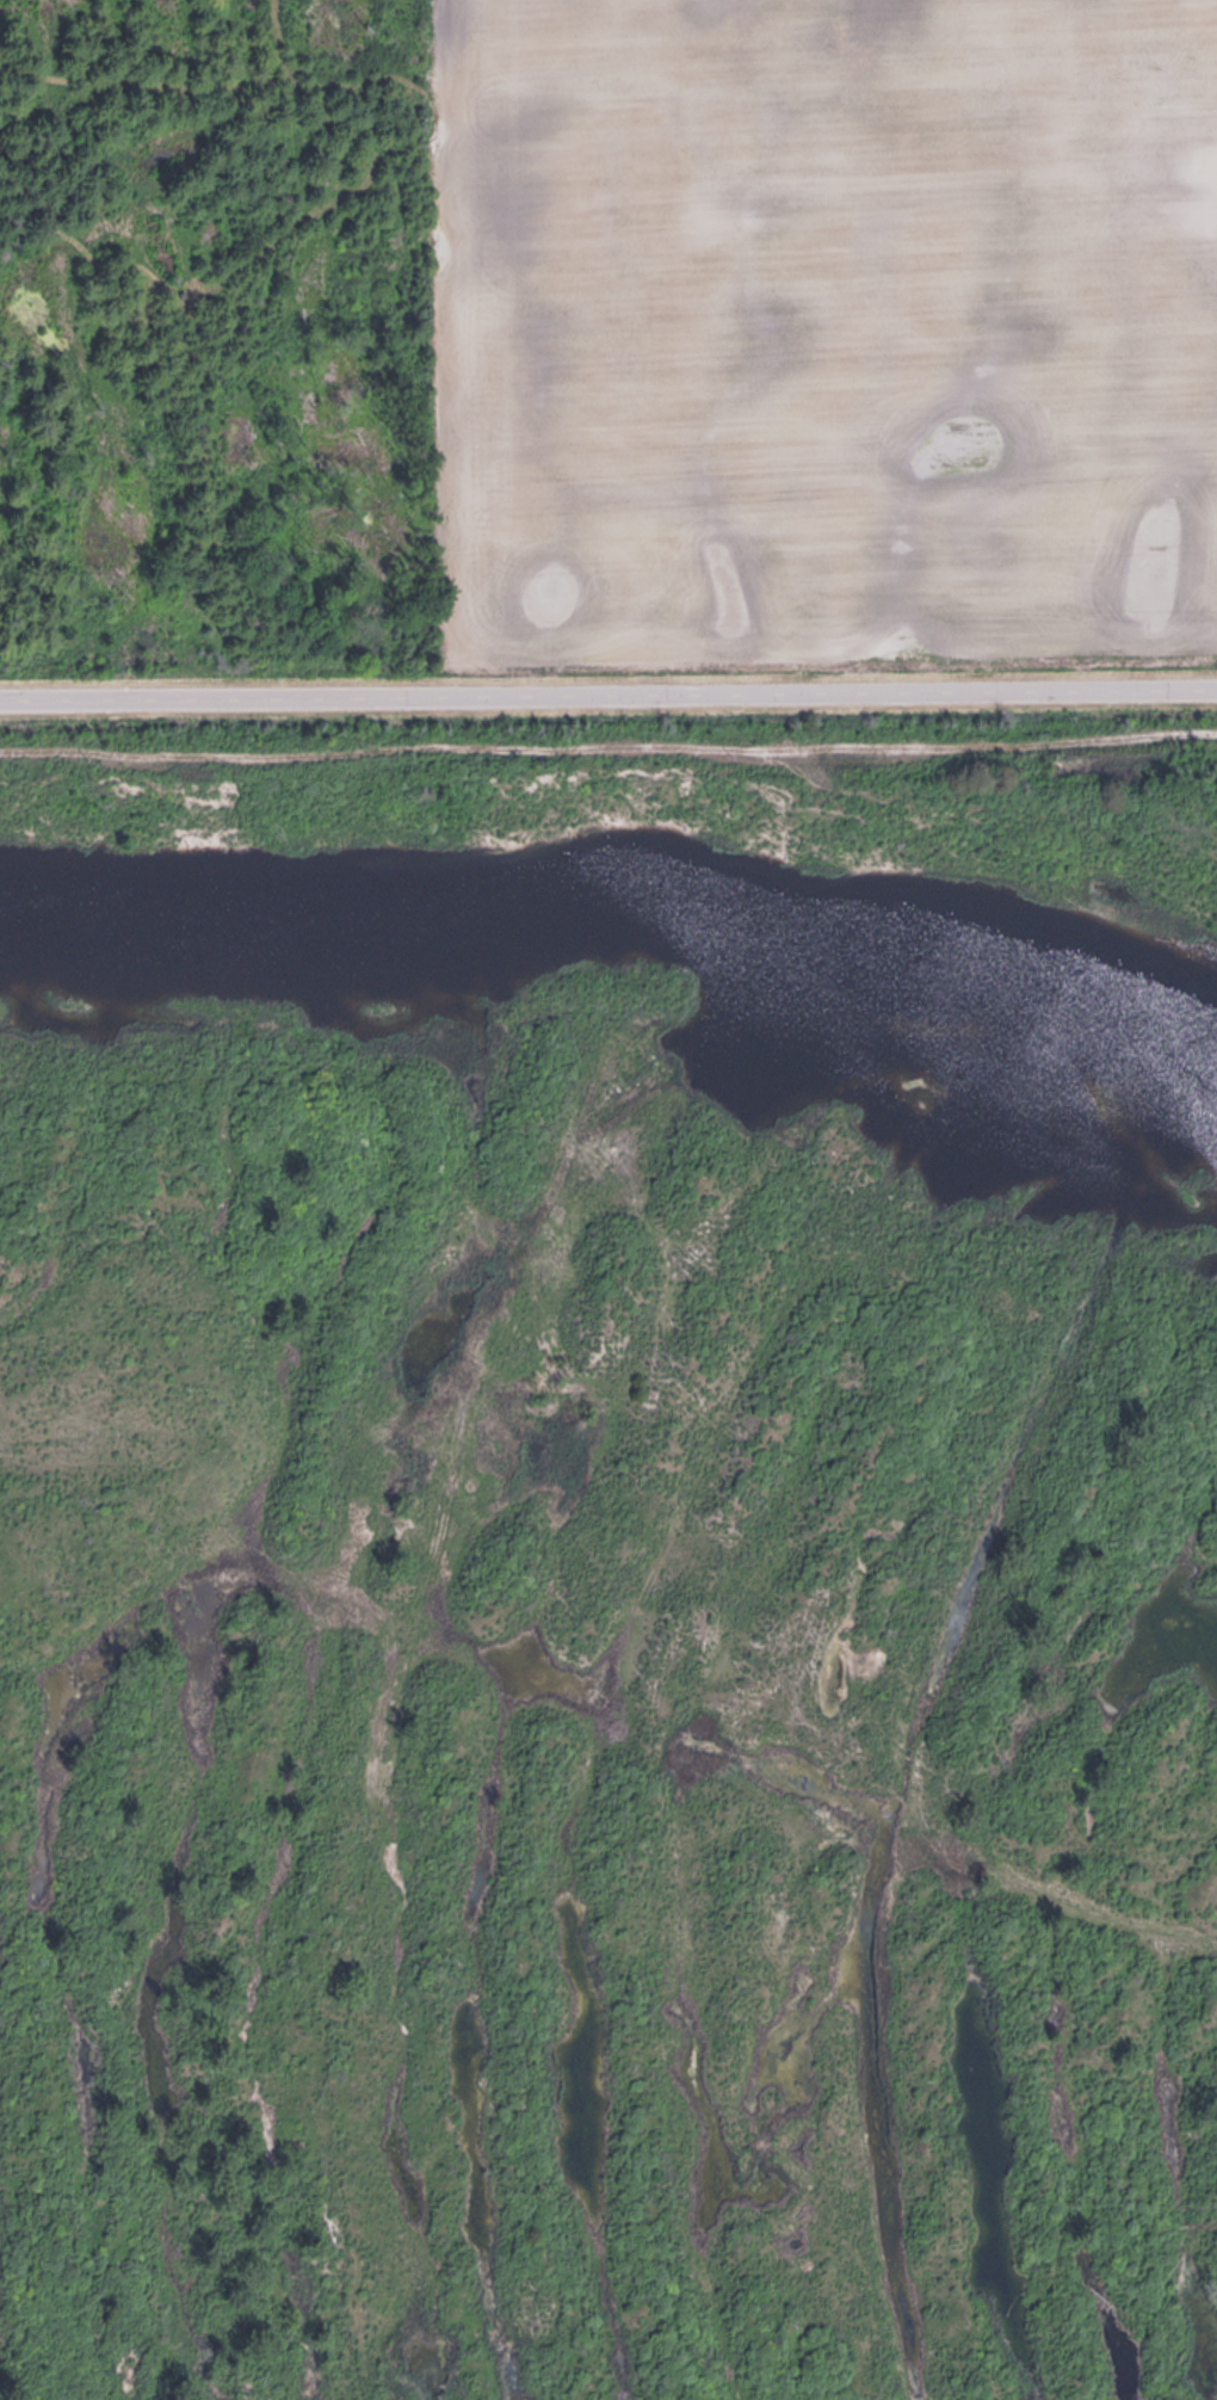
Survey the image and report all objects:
building: (1186, 208)
road: (608, 691)
road: (608, 747)

